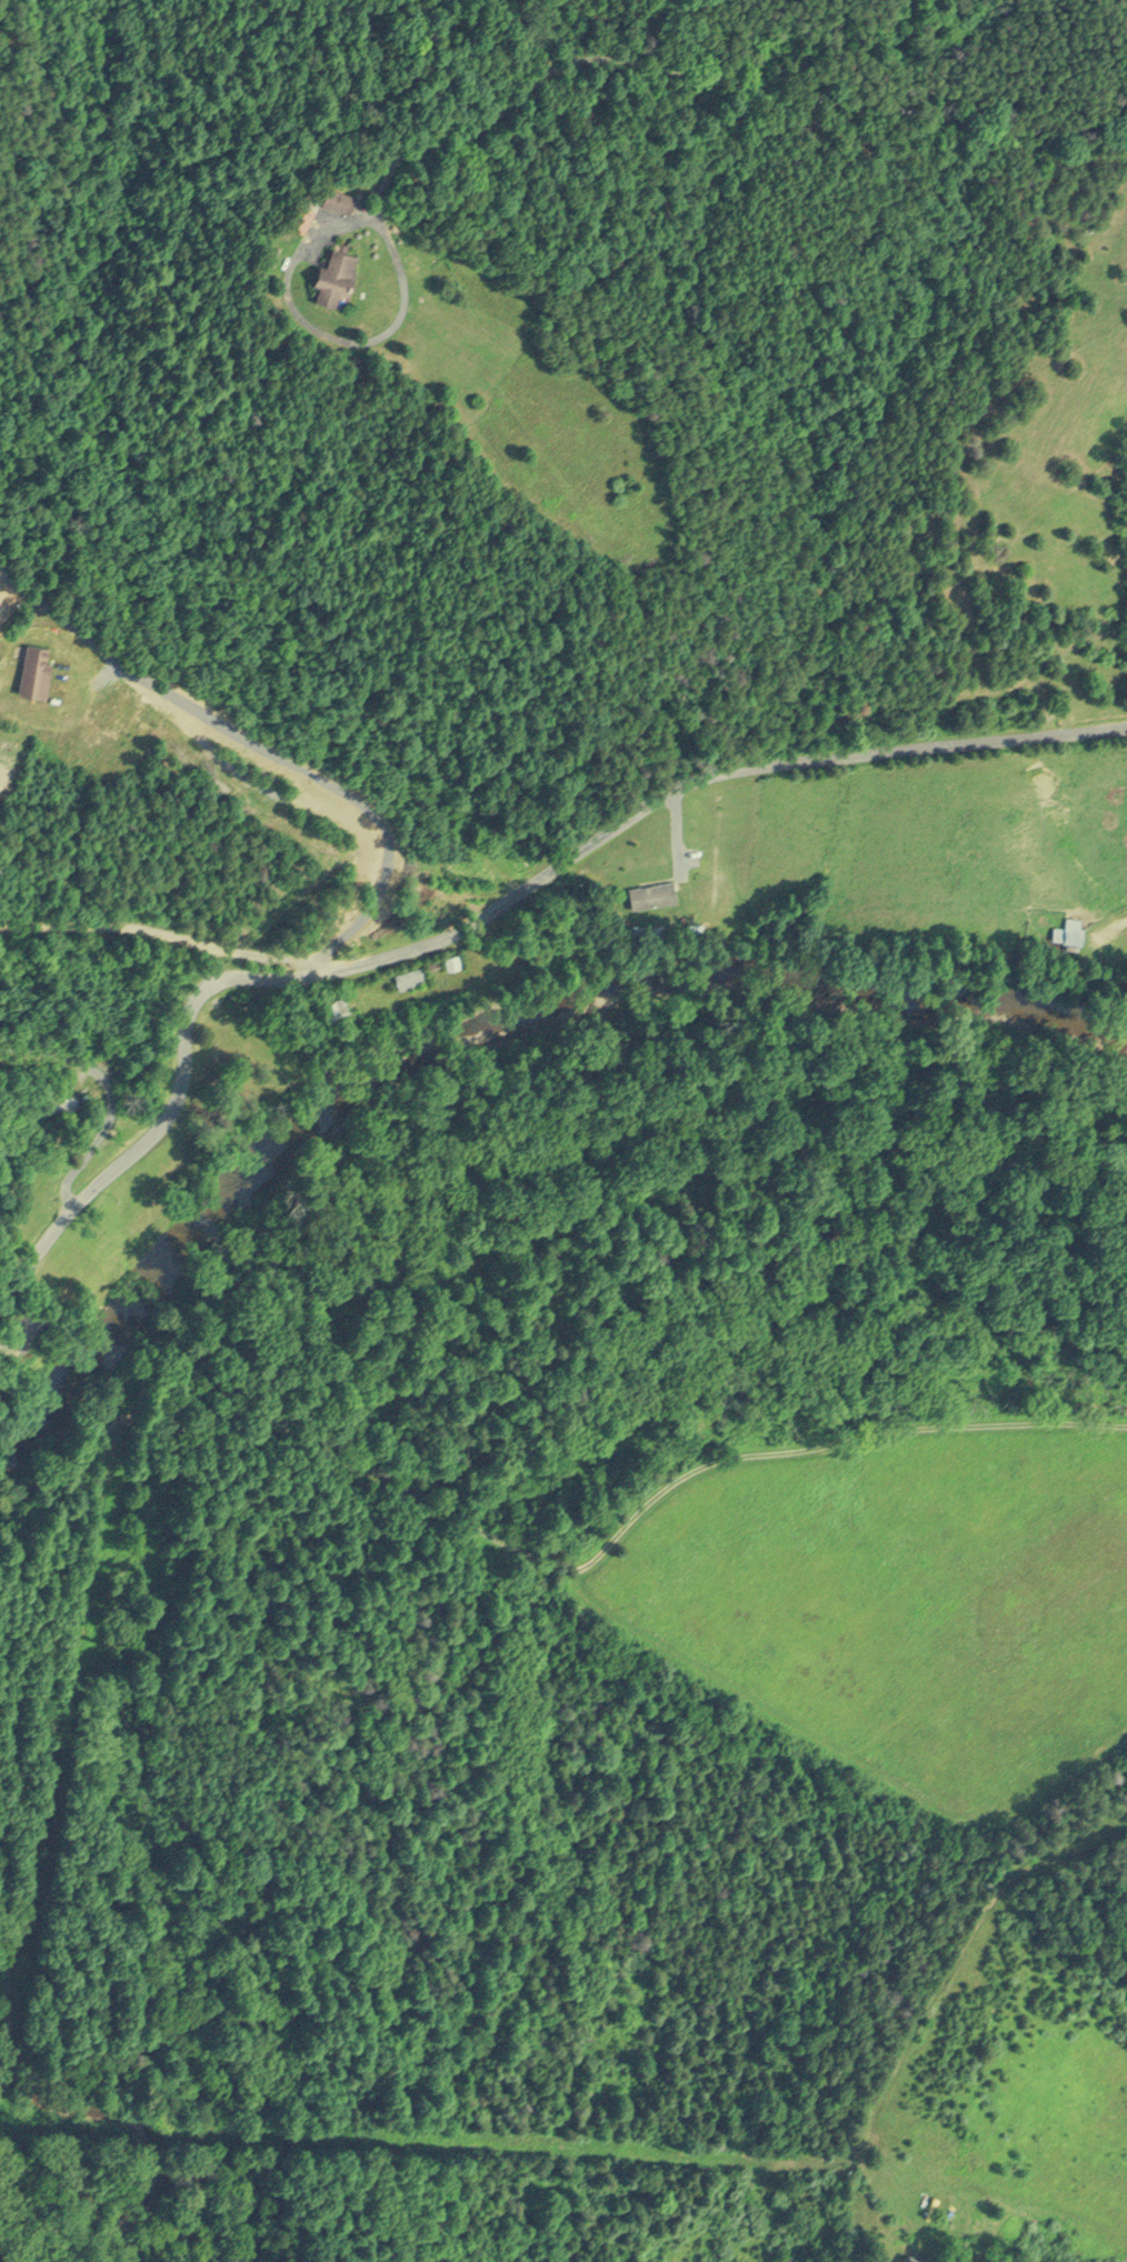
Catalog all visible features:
road: (700, 79)
building: (340, 199)
building: (301, 214)
building: (338, 276)
building: (36, 667)
road: (231, 769)
building: (651, 892)
road: (489, 918)
building: (1068, 932)
road: (161, 942)
building: (442, 962)
building: (408, 977)
building: (336, 1005)
river: (488, 1043)
road: (110, 1094)
river: (18, 2019)
building: (915, 2256)

